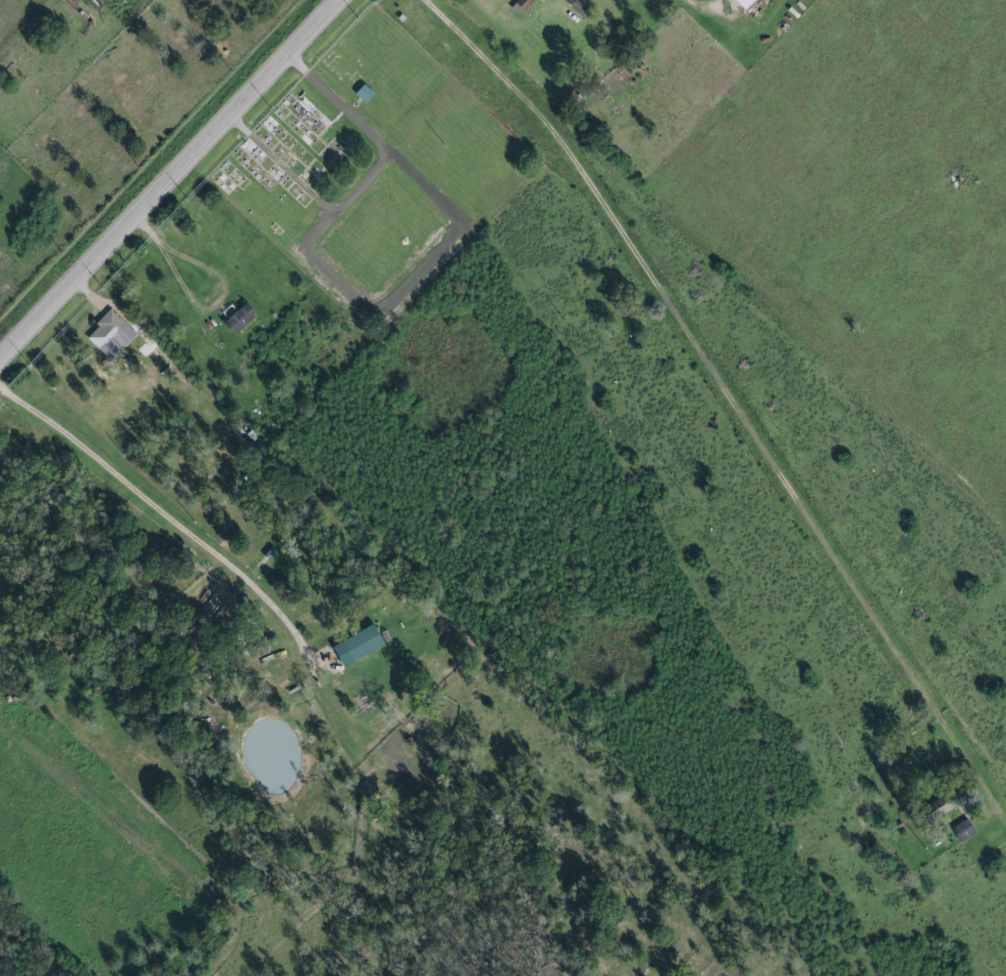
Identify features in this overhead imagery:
building: (741, 3)
building: (521, 4)
building: (362, 93)
park: (372, 172)
road: (167, 177)
road: (360, 184)
road: (219, 288)
building: (237, 319)
building: (105, 332)
road: (736, 391)
road: (162, 519)
building: (355, 645)
building: (934, 810)
building: (961, 831)

